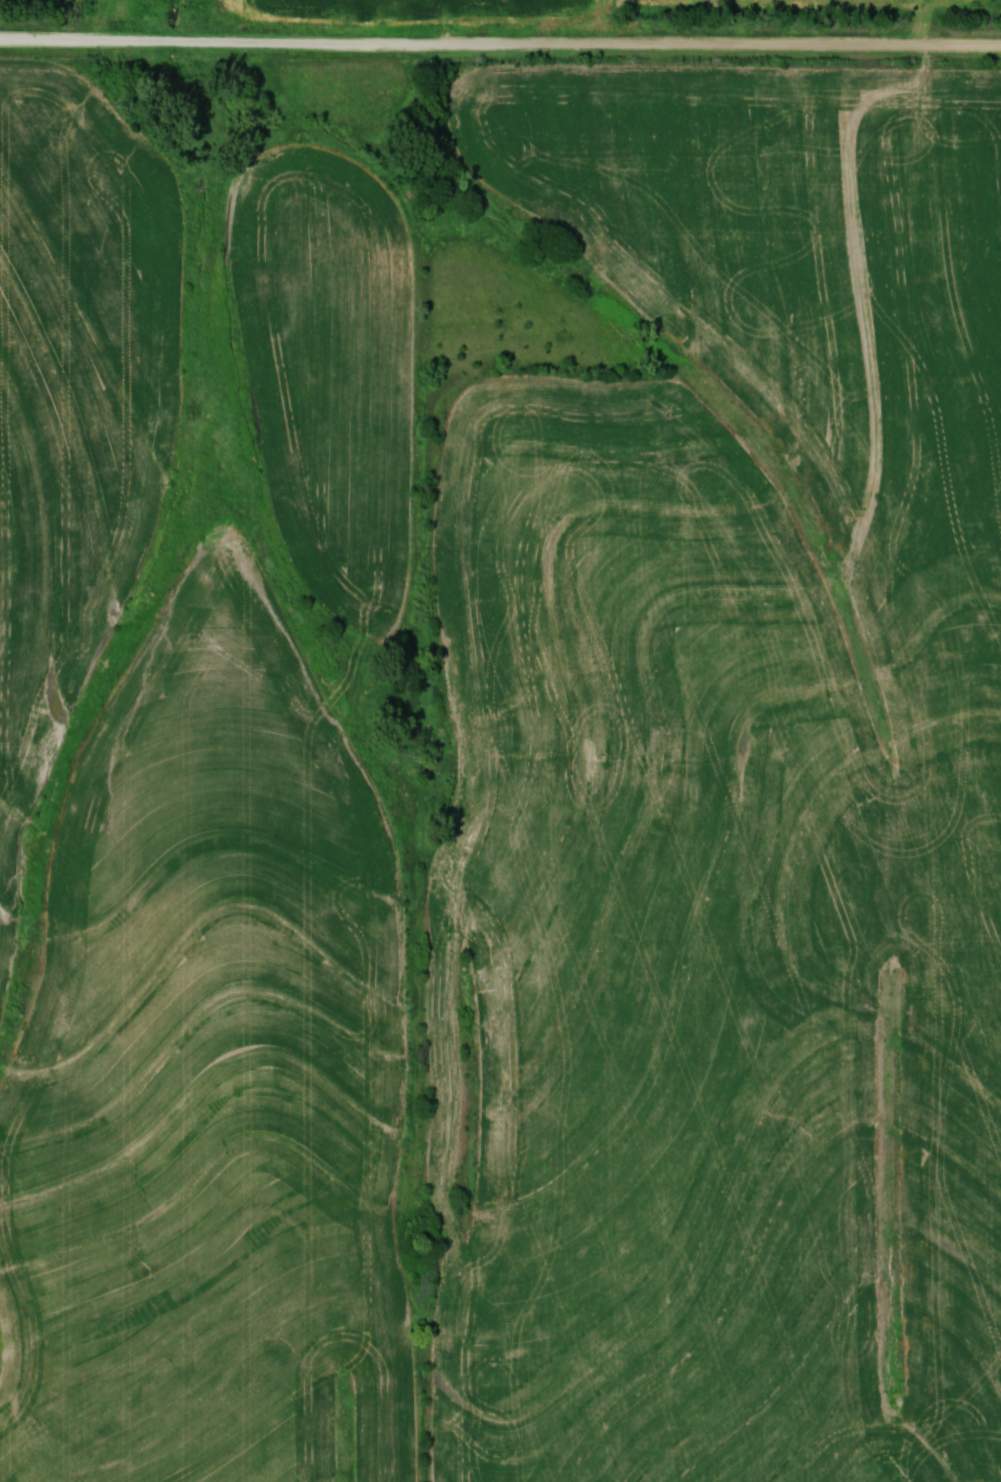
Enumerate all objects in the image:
building: (425, 3)
road: (500, 50)

